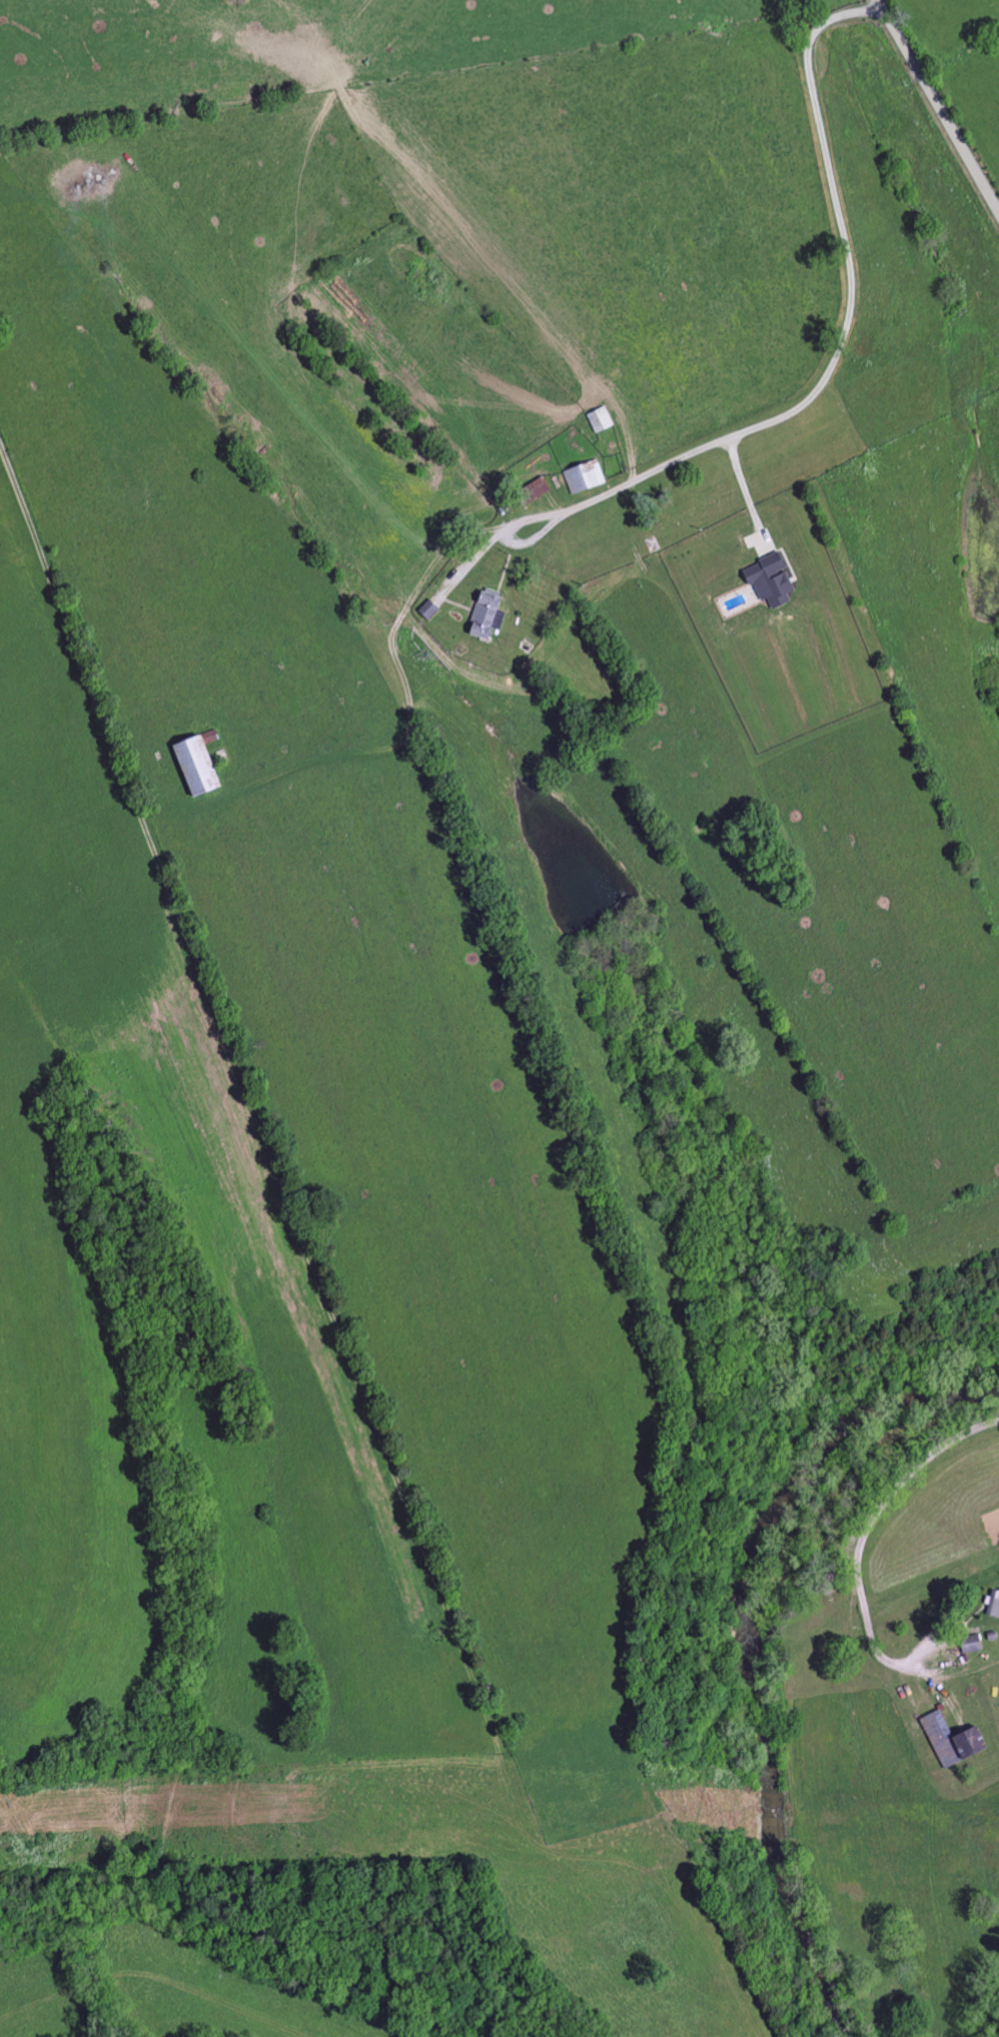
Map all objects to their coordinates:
road: (938, 106)
road: (822, 381)
road: (744, 492)
road: (41, 555)
building: (776, 581)
building: (493, 613)
road: (866, 1526)
building: (993, 1607)
building: (969, 1644)
building: (950, 1740)

